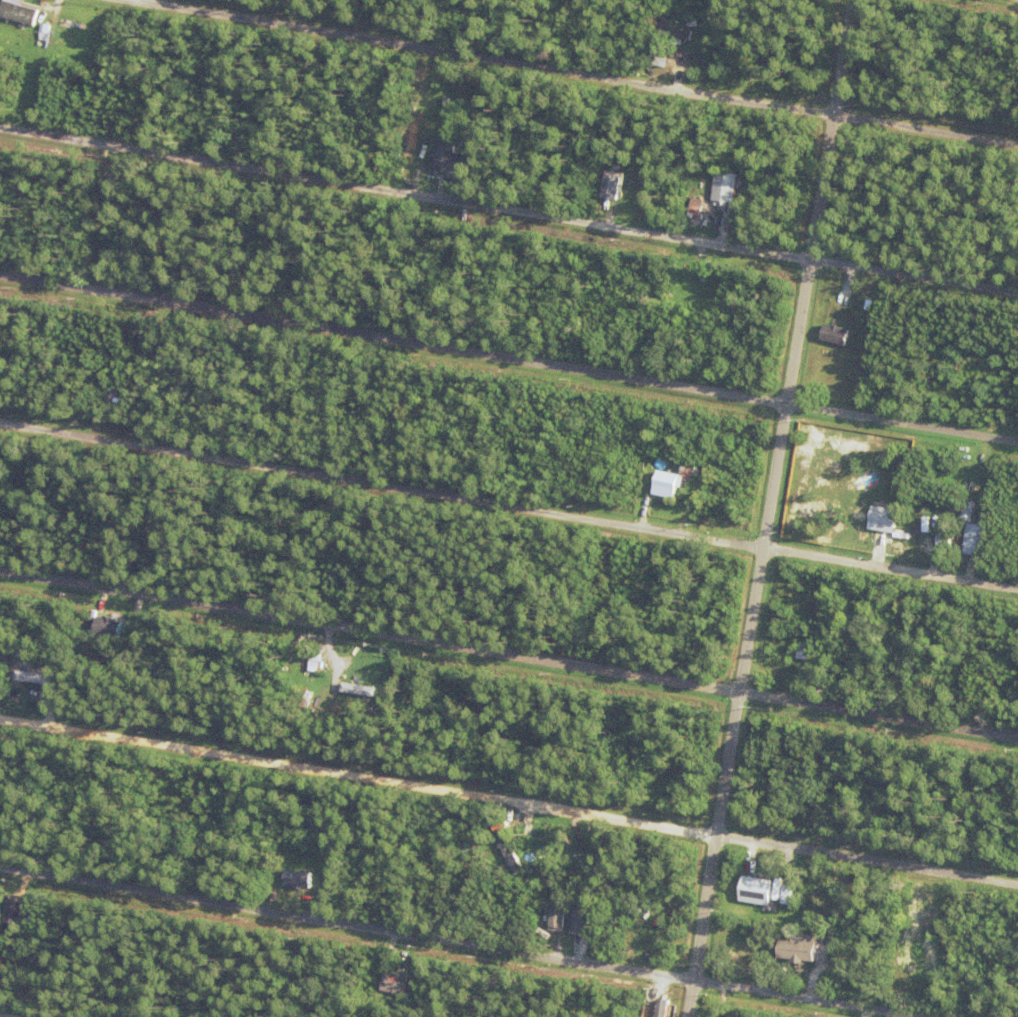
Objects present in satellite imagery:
building: (20, 16)
building: (78, 19)
building: (46, 30)
building: (678, 35)
building: (662, 60)
building: (736, 71)
road: (574, 72)
building: (757, 75)
building: (448, 157)
building: (610, 185)
building: (712, 190)
building: (726, 191)
road: (509, 211)
building: (697, 211)
building: (736, 225)
building: (103, 228)
building: (91, 256)
building: (724, 280)
building: (837, 331)
road: (508, 360)
building: (102, 371)
building: (117, 395)
building: (667, 482)
building: (686, 505)
road: (508, 507)
road: (772, 508)
building: (703, 510)
building: (664, 513)
building: (968, 513)
building: (884, 517)
building: (976, 537)
building: (945, 539)
building: (598, 619)
building: (134, 624)
building: (109, 626)
building: (902, 631)
building: (805, 649)
building: (788, 653)
road: (508, 654)
building: (314, 660)
building: (40, 663)
building: (332, 663)
building: (346, 670)
building: (30, 676)
building: (27, 688)
building: (356, 690)
building: (219, 779)
building: (225, 787)
building: (210, 789)
road: (509, 802)
building: (510, 851)
building: (587, 860)
building: (534, 862)
building: (318, 872)
building: (296, 878)
building: (328, 882)
building: (839, 887)
building: (756, 889)
building: (497, 891)
building: (789, 894)
building: (17, 911)
building: (952, 914)
building: (561, 915)
building: (584, 916)
building: (486, 919)
building: (483, 929)
building: (828, 936)
road: (460, 940)
building: (799, 949)
building: (389, 958)
building: (7, 963)
building: (410, 970)
building: (392, 981)
building: (656, 1011)
building: (401, 1015)
road: (3, 1016)

